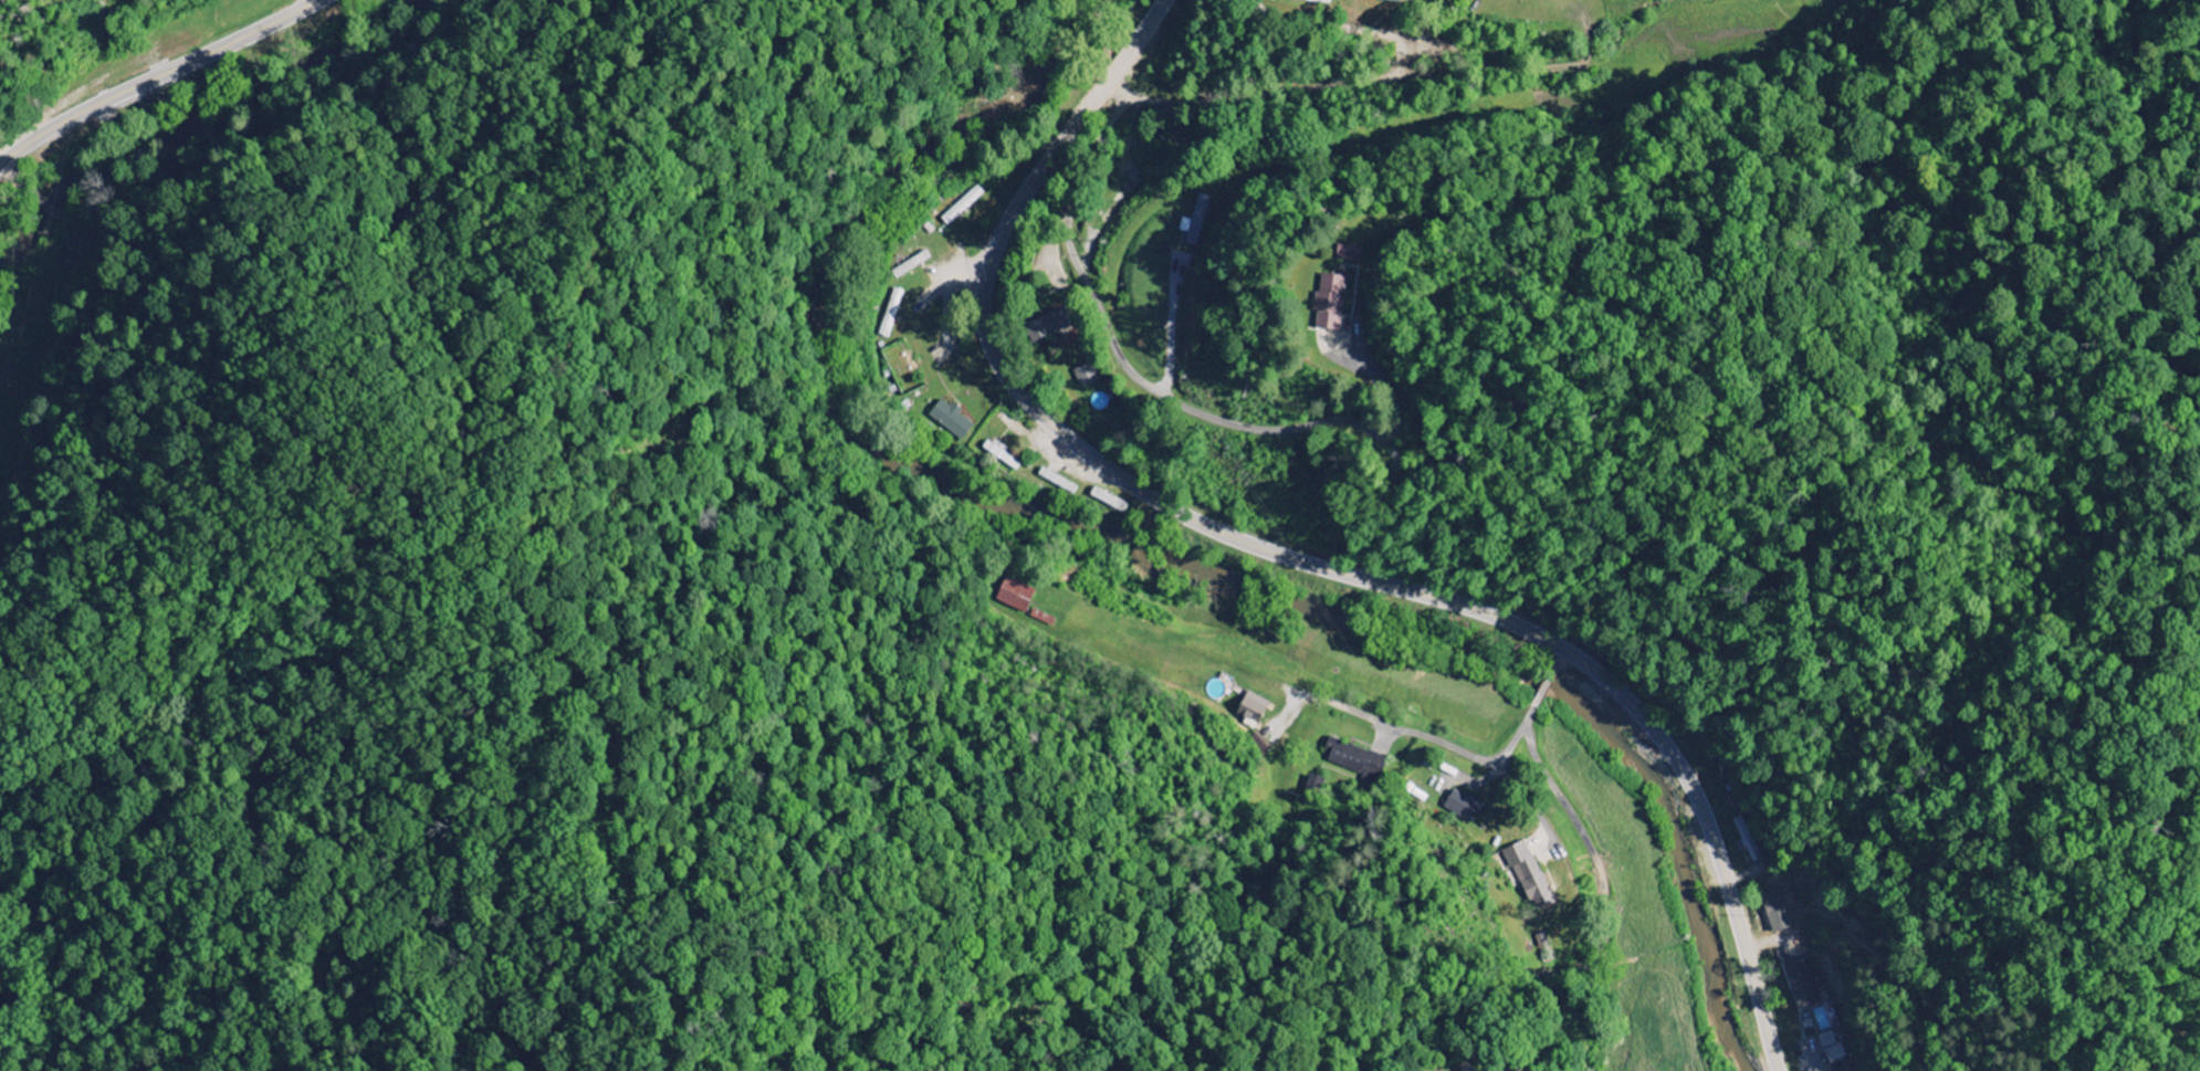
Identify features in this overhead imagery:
building: (1392, 0)
road: (155, 77)
road: (1118, 90)
road: (1271, 102)
building: (1194, 221)
building: (1348, 253)
building: (1329, 302)
building: (1046, 325)
road: (1125, 361)
building: (1086, 375)
building: (951, 419)
building: (1002, 453)
road: (1291, 557)
building: (1015, 595)
road: (1562, 660)
road: (1547, 684)
building: (1251, 710)
road: (1517, 737)
building: (1259, 744)
building: (1354, 759)
road: (1510, 781)
building: (1460, 806)
building: (1529, 876)
river: (1699, 936)
building: (1801, 983)
building: (1831, 1048)
building: (1502, 1069)

